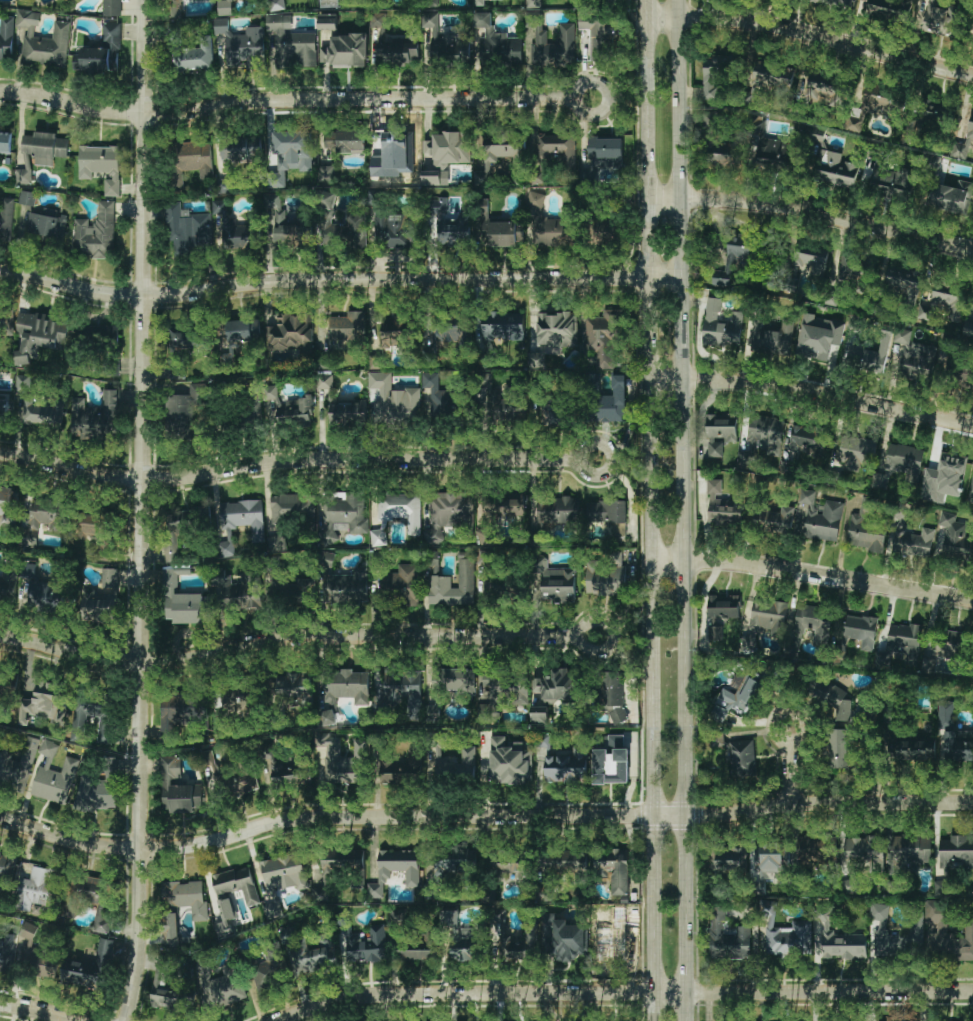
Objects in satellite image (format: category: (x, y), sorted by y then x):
building: (613, 1)
building: (837, 2)
building: (479, 3)
building: (533, 3)
building: (275, 5)
building: (112, 7)
building: (224, 7)
building: (891, 9)
building: (942, 18)
building: (378, 19)
building: (327, 21)
building: (278, 22)
road: (811, 34)
building: (599, 36)
building: (6, 38)
building: (43, 39)
building: (496, 41)
building: (445, 43)
building: (242, 44)
building: (554, 46)
building: (295, 48)
building: (103, 50)
building: (346, 51)
building: (397, 52)
building: (190, 53)
building: (75, 58)
building: (714, 73)
building: (772, 75)
building: (828, 88)
road: (295, 100)
building: (876, 106)
building: (970, 125)
building: (344, 140)
building: (5, 142)
building: (558, 147)
building: (48, 148)
building: (448, 148)
building: (28, 149)
building: (241, 149)
building: (959, 150)
building: (725, 151)
building: (775, 152)
building: (289, 155)
building: (505, 155)
building: (602, 156)
building: (194, 157)
building: (100, 165)
building: (835, 169)
building: (325, 173)
building: (23, 176)
building: (435, 177)
building: (892, 182)
building: (223, 186)
building: (950, 195)
building: (27, 198)
building: (327, 200)
building: (217, 206)
road: (811, 212)
building: (6, 215)
building: (552, 222)
building: (449, 223)
building: (47, 224)
building: (284, 228)
building: (394, 229)
building: (347, 230)
building: (95, 232)
building: (506, 233)
building: (239, 234)
building: (737, 256)
building: (809, 260)
building: (853, 269)
road: (338, 279)
building: (903, 281)
building: (944, 300)
building: (5, 319)
building: (969, 324)
building: (503, 325)
building: (720, 325)
building: (348, 326)
building: (556, 328)
building: (243, 329)
building: (450, 330)
building: (40, 333)
building: (290, 333)
building: (391, 333)
building: (100, 336)
building: (603, 336)
building: (770, 336)
building: (818, 336)
building: (187, 338)
building: (871, 353)
building: (914, 356)
building: (324, 381)
building: (22, 384)
road: (811, 391)
building: (438, 397)
building: (393, 399)
building: (504, 402)
building: (610, 402)
building: (285, 407)
building: (3, 409)
building: (251, 409)
building: (185, 410)
building: (347, 411)
building: (41, 412)
building: (554, 416)
building: (94, 417)
building: (719, 432)
building: (762, 438)
building: (810, 440)
building: (855, 451)
road: (297, 459)
building: (899, 465)
building: (944, 478)
building: (970, 490)
building: (8, 505)
building: (503, 506)
building: (292, 507)
building: (721, 507)
building: (606, 510)
road: (648, 510)
road: (682, 510)
road: (142, 511)
building: (557, 511)
building: (346, 513)
building: (397, 514)
building: (447, 514)
building: (48, 517)
building: (817, 517)
building: (774, 518)
building: (189, 519)
building: (240, 522)
building: (618, 529)
building: (865, 529)
building: (95, 532)
building: (486, 534)
building: (911, 540)
building: (955, 540)
building: (171, 549)
building: (484, 557)
building: (217, 575)
road: (810, 575)
building: (110, 577)
building: (606, 578)
building: (439, 581)
building: (8, 584)
building: (558, 584)
building: (400, 585)
building: (348, 586)
building: (294, 589)
building: (244, 591)
building: (45, 597)
building: (97, 608)
building: (721, 615)
building: (764, 619)
building: (812, 624)
building: (861, 629)
road: (296, 640)
building: (951, 644)
building: (901, 645)
building: (295, 684)
building: (347, 685)
building: (557, 685)
building: (505, 686)
building: (448, 687)
building: (815, 687)
building: (399, 691)
building: (743, 695)
building: (613, 697)
building: (44, 704)
building: (842, 709)
building: (177, 710)
building: (946, 713)
building: (539, 715)
building: (79, 728)
building: (543, 741)
building: (959, 745)
building: (49, 748)
building: (838, 748)
building: (921, 749)
building: (737, 754)
building: (342, 759)
building: (17, 760)
building: (509, 761)
building: (453, 762)
building: (611, 762)
road: (791, 762)
building: (566, 766)
building: (404, 770)
building: (290, 773)
building: (225, 776)
building: (56, 781)
building: (178, 788)
building: (97, 789)
road: (482, 815)
building: (811, 849)
building: (909, 851)
building: (953, 857)
building: (730, 858)
building: (773, 859)
building: (566, 861)
building: (451, 864)
building: (616, 868)
building: (337, 869)
building: (394, 869)
building: (6, 875)
building: (282, 878)
building: (236, 884)
building: (38, 888)
building: (186, 896)
building: (93, 901)
building: (225, 917)
building: (28, 930)
building: (171, 931)
building: (883, 932)
building: (786, 934)
building: (949, 936)
building: (463, 937)
building: (563, 937)
building: (729, 938)
building: (843, 943)
building: (369, 946)
building: (420, 948)
building: (5, 949)
building: (309, 952)
building: (43, 964)
building: (90, 967)
building: (270, 971)
building: (224, 987)
road: (622, 991)
building: (167, 998)
road: (41, 1009)

